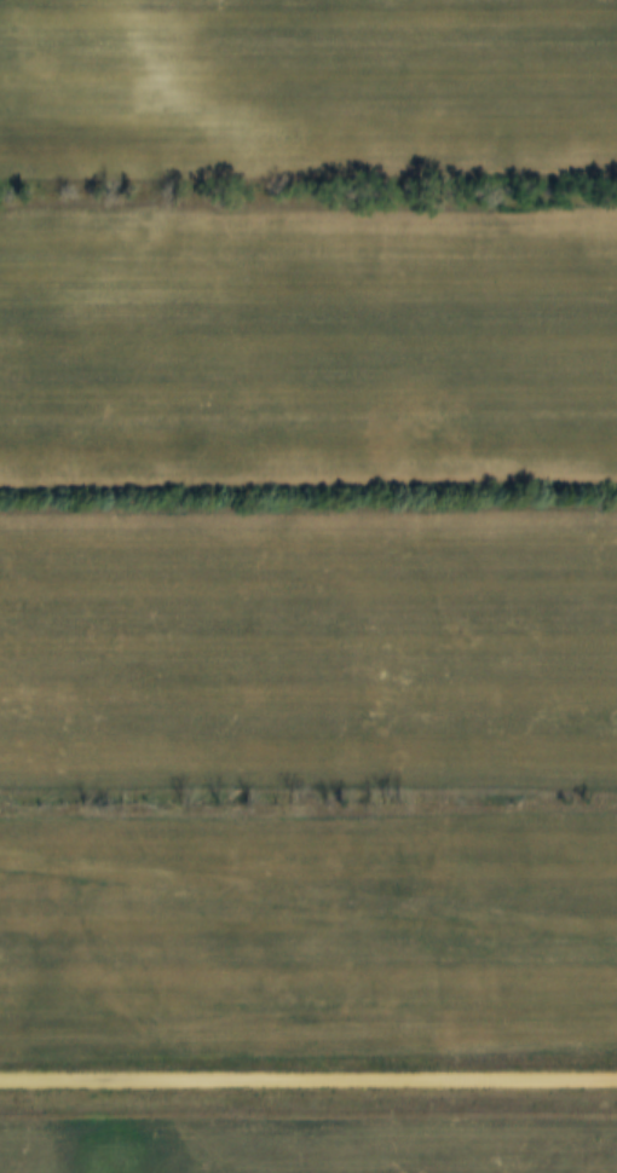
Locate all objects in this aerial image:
road: (308, 1088)

